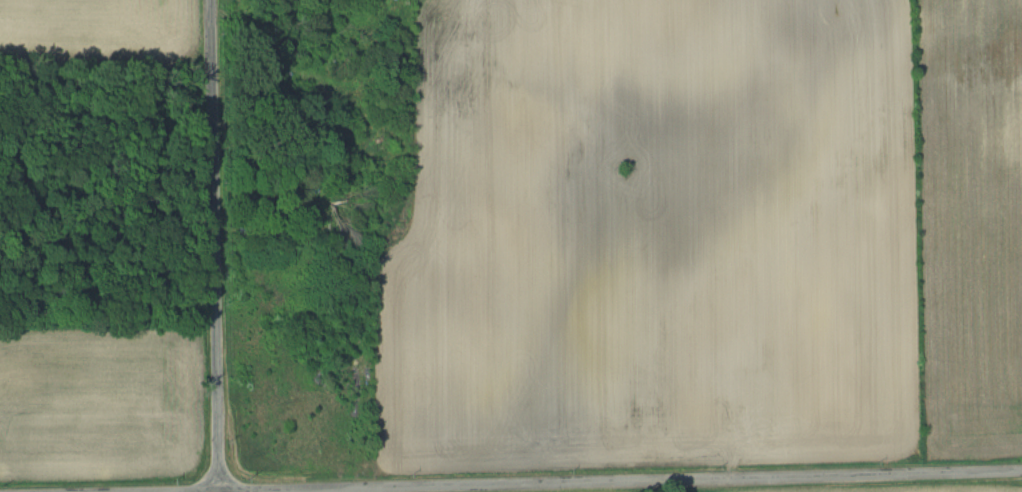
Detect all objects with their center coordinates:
road: (217, 245)
road: (640, 482)

